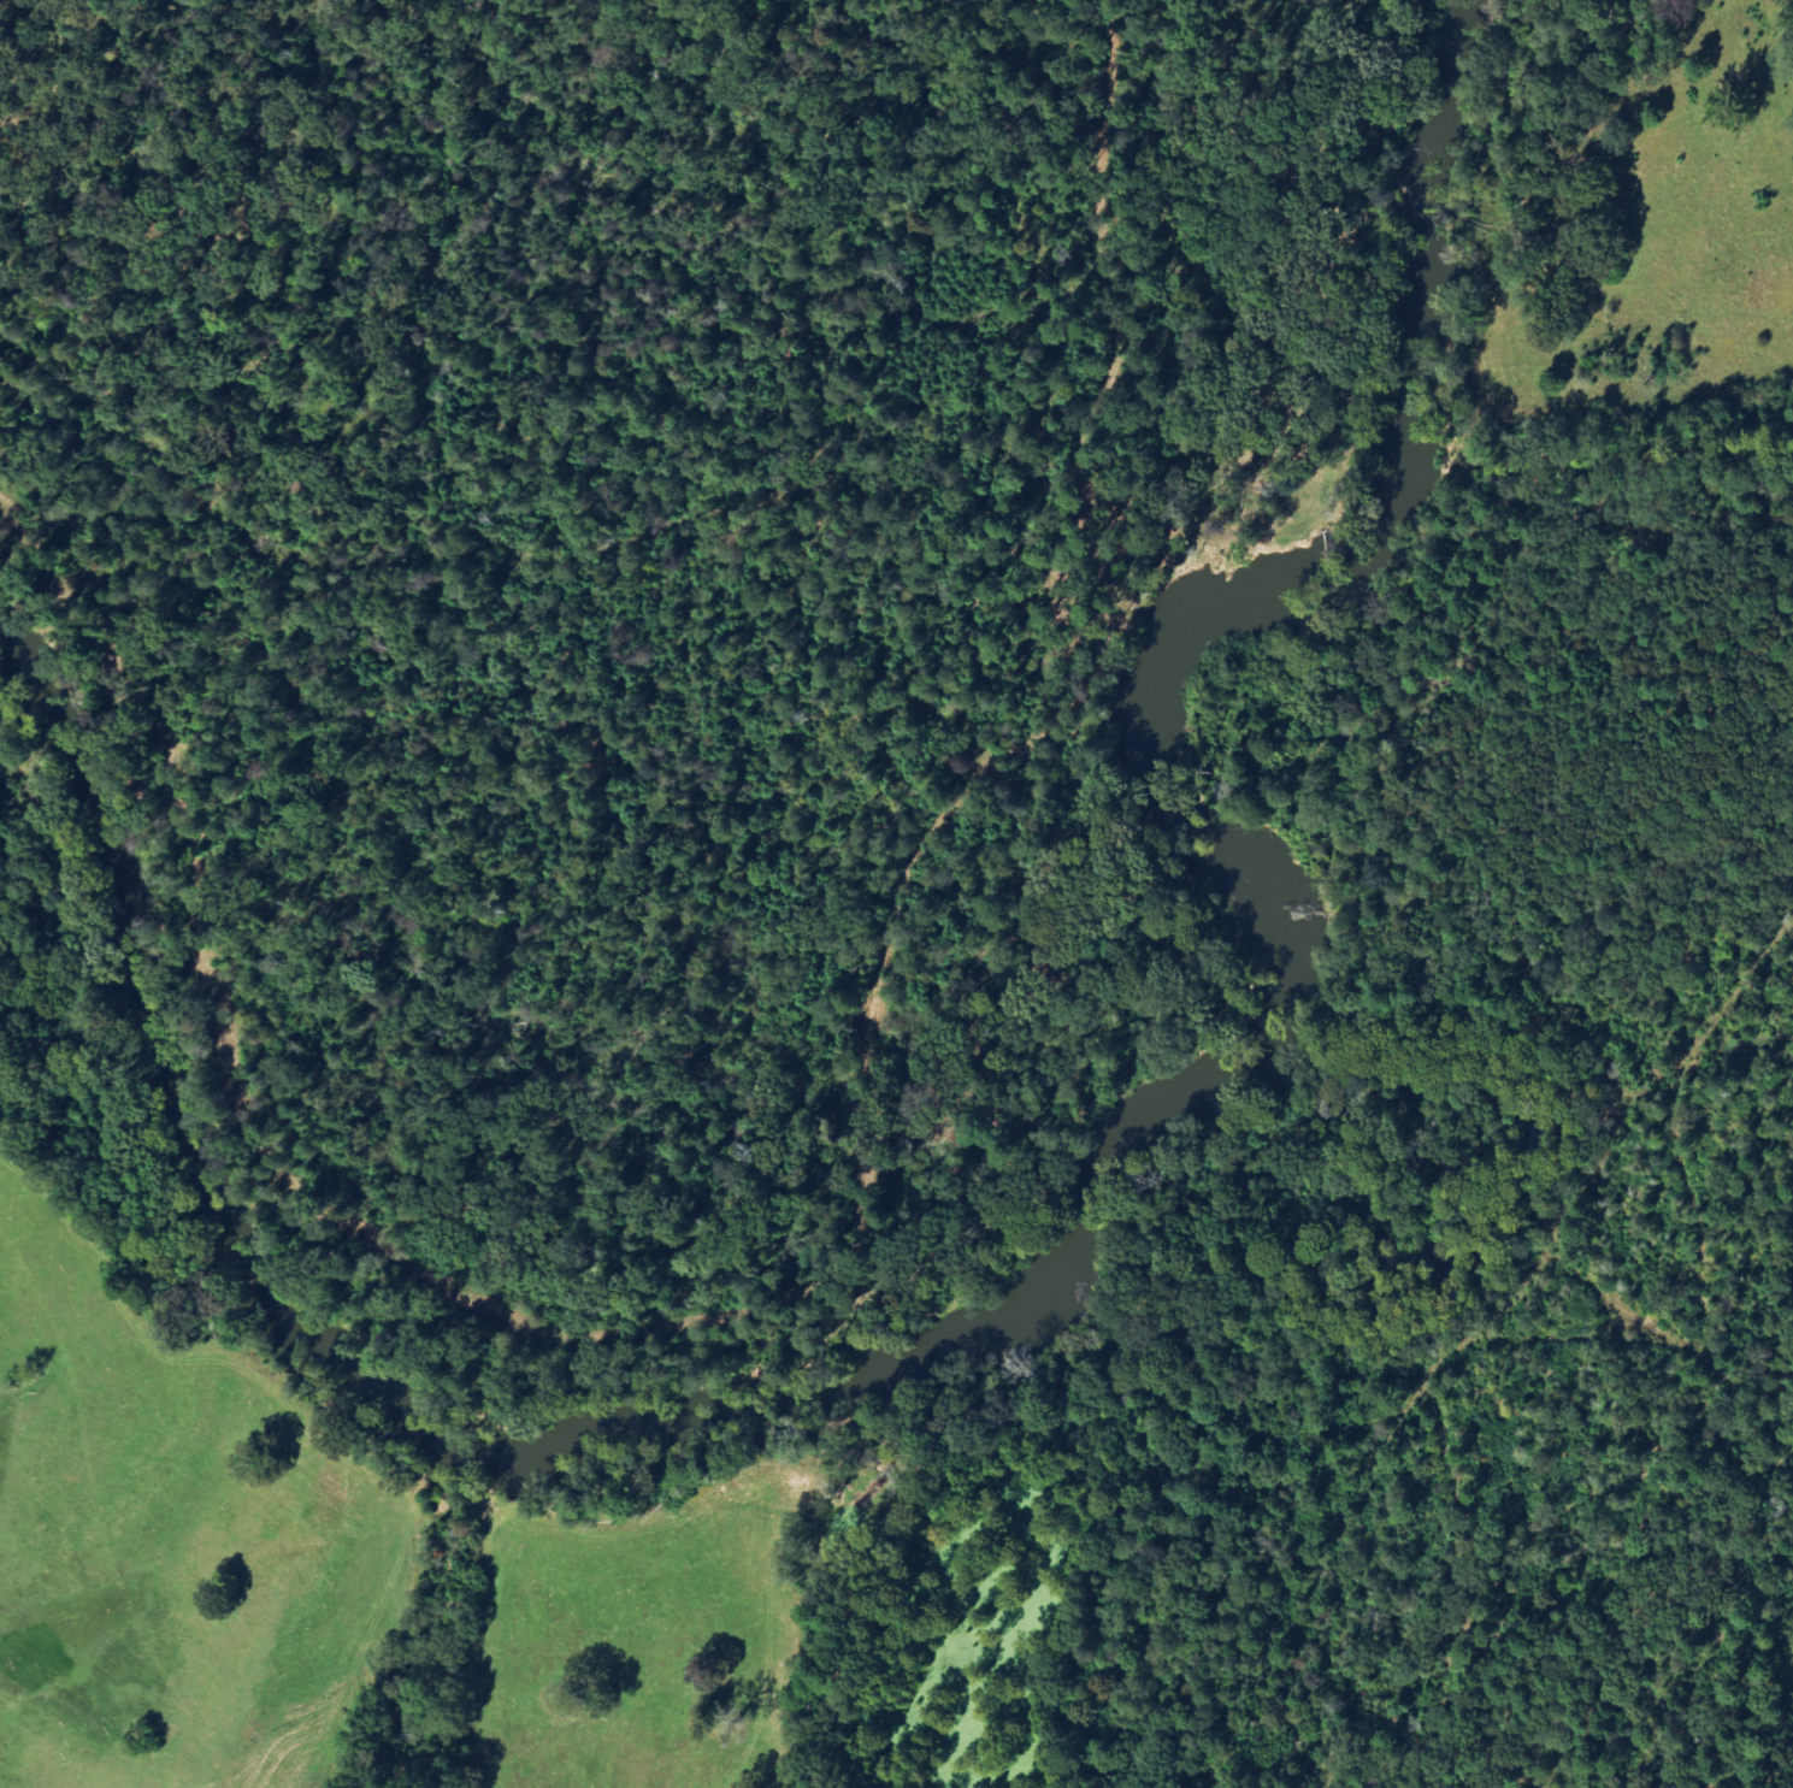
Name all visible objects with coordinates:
river: (1050, 1284)

